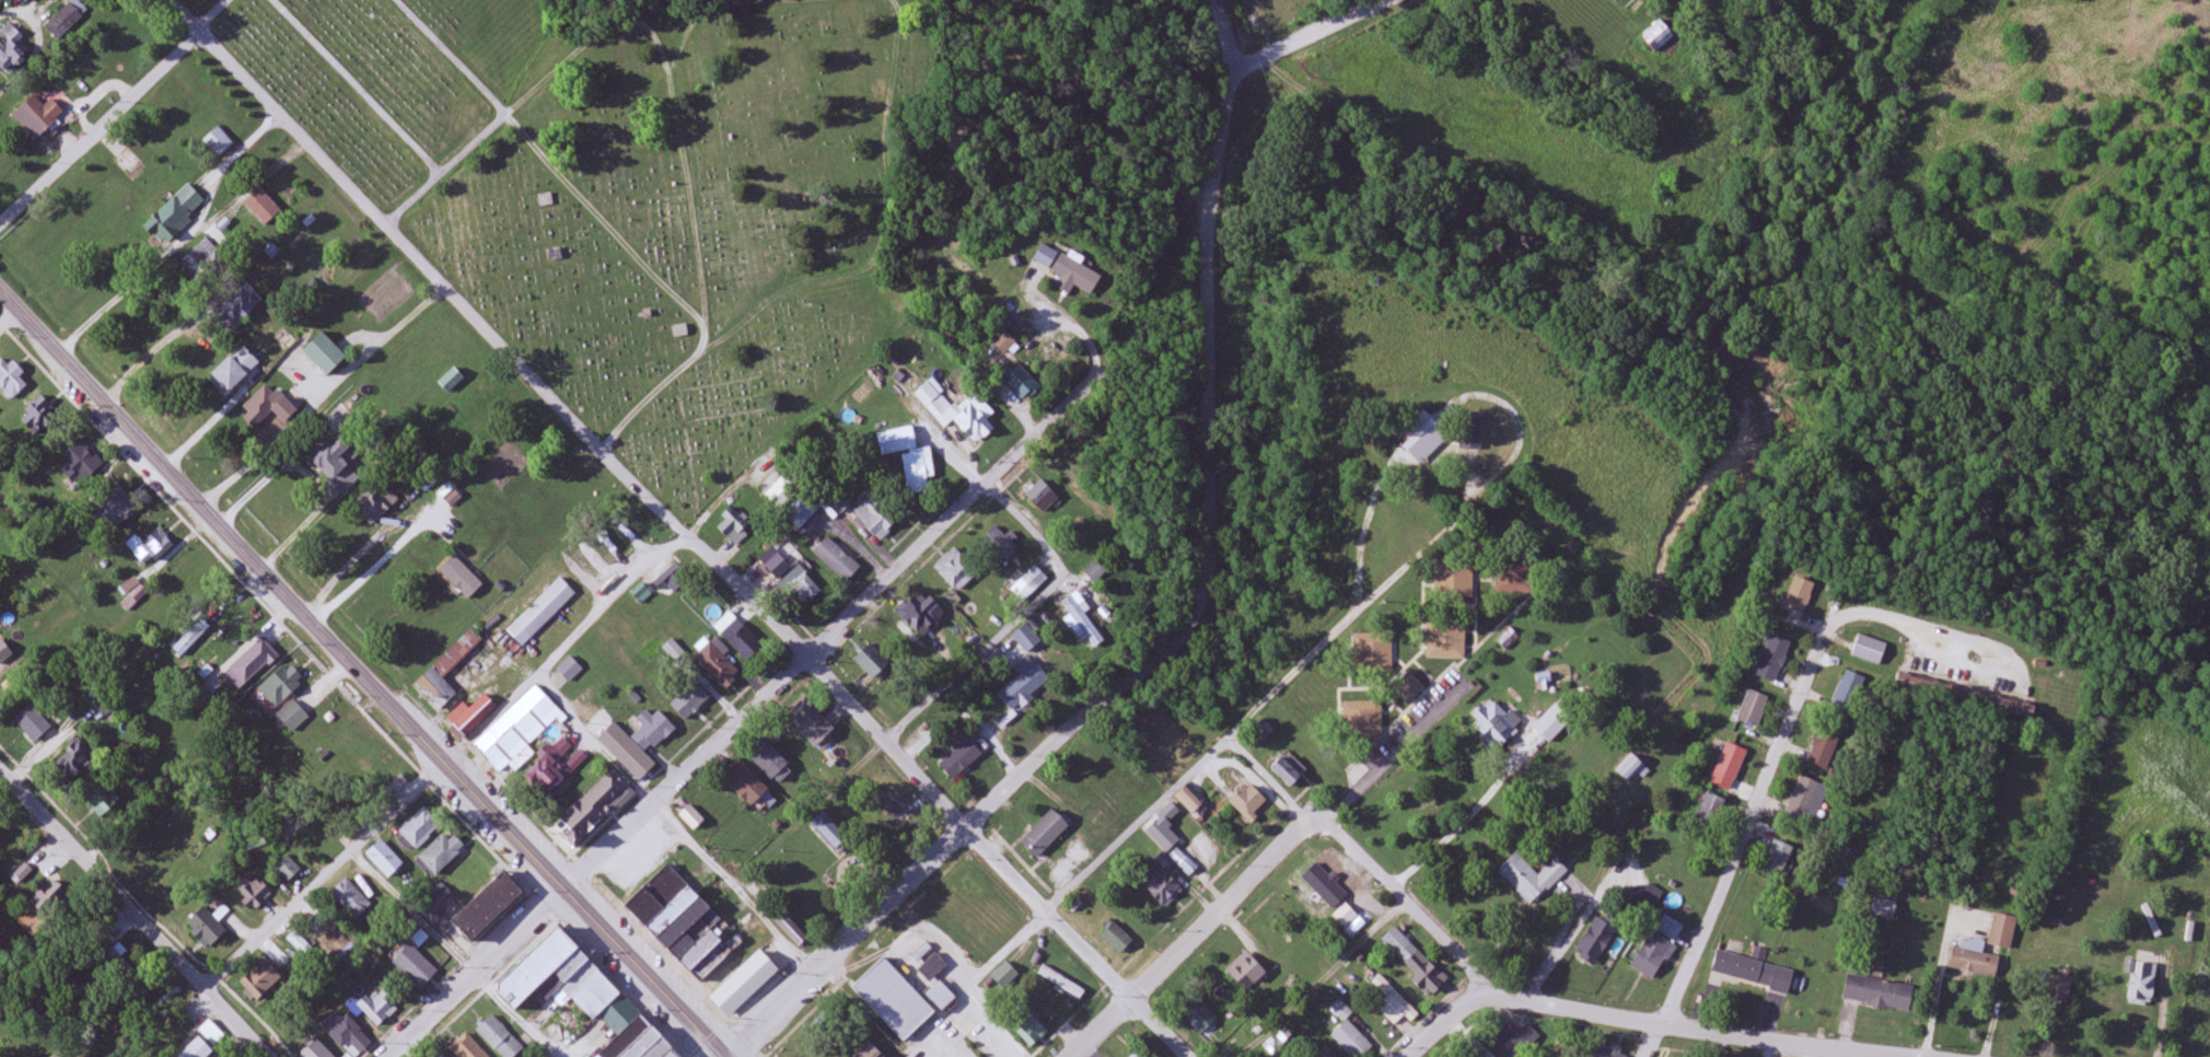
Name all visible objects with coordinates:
road: (218, 15)
building: (68, 19)
road: (1308, 35)
building: (1658, 36)
building: (10, 51)
building: (40, 115)
road: (101, 125)
building: (219, 142)
building: (175, 214)
building: (201, 258)
road: (1207, 267)
building: (1067, 271)
building: (239, 305)
road: (10, 320)
building: (284, 338)
building: (1003, 341)
building: (324, 352)
building: (233, 369)
building: (11, 377)
building: (451, 381)
building: (1020, 381)
road: (321, 393)
building: (267, 406)
building: (958, 411)
road: (570, 414)
building: (39, 417)
building: (1469, 437)
building: (1427, 451)
building: (906, 455)
building: (82, 461)
building: (336, 465)
building: (769, 480)
building: (1042, 496)
building: (842, 500)
building: (376, 503)
building: (116, 508)
building: (802, 511)
building: (874, 519)
building: (734, 526)
building: (631, 532)
building: (999, 545)
building: (149, 547)
building: (836, 559)
building: (955, 570)
building: (1096, 570)
building: (672, 574)
building: (1452, 574)
building: (1034, 579)
building: (188, 588)
building: (804, 588)
building: (131, 589)
building: (1799, 594)
building: (542, 612)
building: (918, 614)
road: (1020, 615)
road: (1352, 617)
building: (1082, 620)
road: (828, 635)
building: (737, 636)
building: (1026, 637)
building: (191, 638)
building: (1445, 638)
building: (1508, 639)
road: (560, 643)
building: (1869, 649)
building: (673, 650)
building: (4, 652)
building: (1372, 652)
building: (1772, 659)
building: (872, 661)
building: (251, 663)
building: (717, 663)
building: (570, 669)
building: (446, 671)
road: (359, 672)
building: (1024, 685)
building: (279, 687)
building: (1409, 687)
building: (1848, 694)
building: (689, 701)
building: (106, 706)
building: (1753, 708)
building: (470, 716)
building: (292, 717)
building: (1362, 720)
building: (809, 721)
building: (1494, 722)
building: (33, 723)
building: (512, 736)
building: (636, 739)
building: (1828, 747)
building: (959, 758)
building: (768, 759)
building: (1731, 762)
building: (72, 765)
road: (1770, 766)
building: (554, 768)
building: (1630, 768)
building: (1289, 769)
road: (1267, 781)
building: (745, 783)
crop: (2151, 783)
building: (1190, 797)
building: (1806, 800)
building: (103, 801)
building: (1248, 801)
building: (593, 808)
road: (988, 808)
building: (1710, 810)
building: (691, 816)
road: (1462, 820)
road: (675, 822)
building: (419, 828)
road: (1136, 829)
building: (829, 832)
building: (4, 834)
building: (1044, 834)
building: (315, 835)
building: (440, 853)
building: (1199, 855)
building: (1777, 858)
building: (384, 859)
building: (288, 869)
road: (1258, 870)
road: (324, 875)
building: (1532, 878)
building: (1165, 888)
building: (254, 894)
road: (1403, 895)
building: (53, 896)
building: (350, 899)
building: (437, 899)
building: (486, 906)
building: (1884, 908)
road: (133, 914)
building: (1346, 915)
building: (205, 928)
building: (1671, 929)
building: (2002, 930)
building: (1116, 938)
building: (697, 940)
building: (1595, 941)
road: (1075, 943)
road: (667, 944)
building: (302, 946)
road: (451, 953)
building: (1653, 956)
building: (117, 959)
building: (1414, 960)
building: (1974, 962)
building: (414, 966)
building: (932, 968)
building: (1242, 971)
building: (1753, 971)
road: (474, 974)
road: (1316, 975)
building: (1004, 976)
road: (972, 978)
building: (260, 981)
building: (1062, 983)
building: (2143, 983)
building: (2059, 988)
crop: (2198, 990)
building: (1877, 992)
building: (940, 996)
building: (580, 997)
building: (893, 999)
building: (1394, 1002)
building: (379, 1008)
building: (1341, 1010)
road: (799, 1012)
road: (734, 1015)
building: (1199, 1015)
road: (1610, 1019)
road: (827, 1021)
park: (835, 1022)
building: (1031, 1030)
building: (212, 1033)
building: (347, 1034)
building: (499, 1037)
building: (1352, 1041)
building: (1513, 1042)
road: (1654, 1043)
building: (466, 1047)
building: (196, 1049)
building: (315, 1050)
road: (758, 1050)
building: (1604, 1050)
building: (869, 1052)
building: (1325, 1053)
building: (1138, 1054)
building: (888, 1055)
building: (443, 1056)

